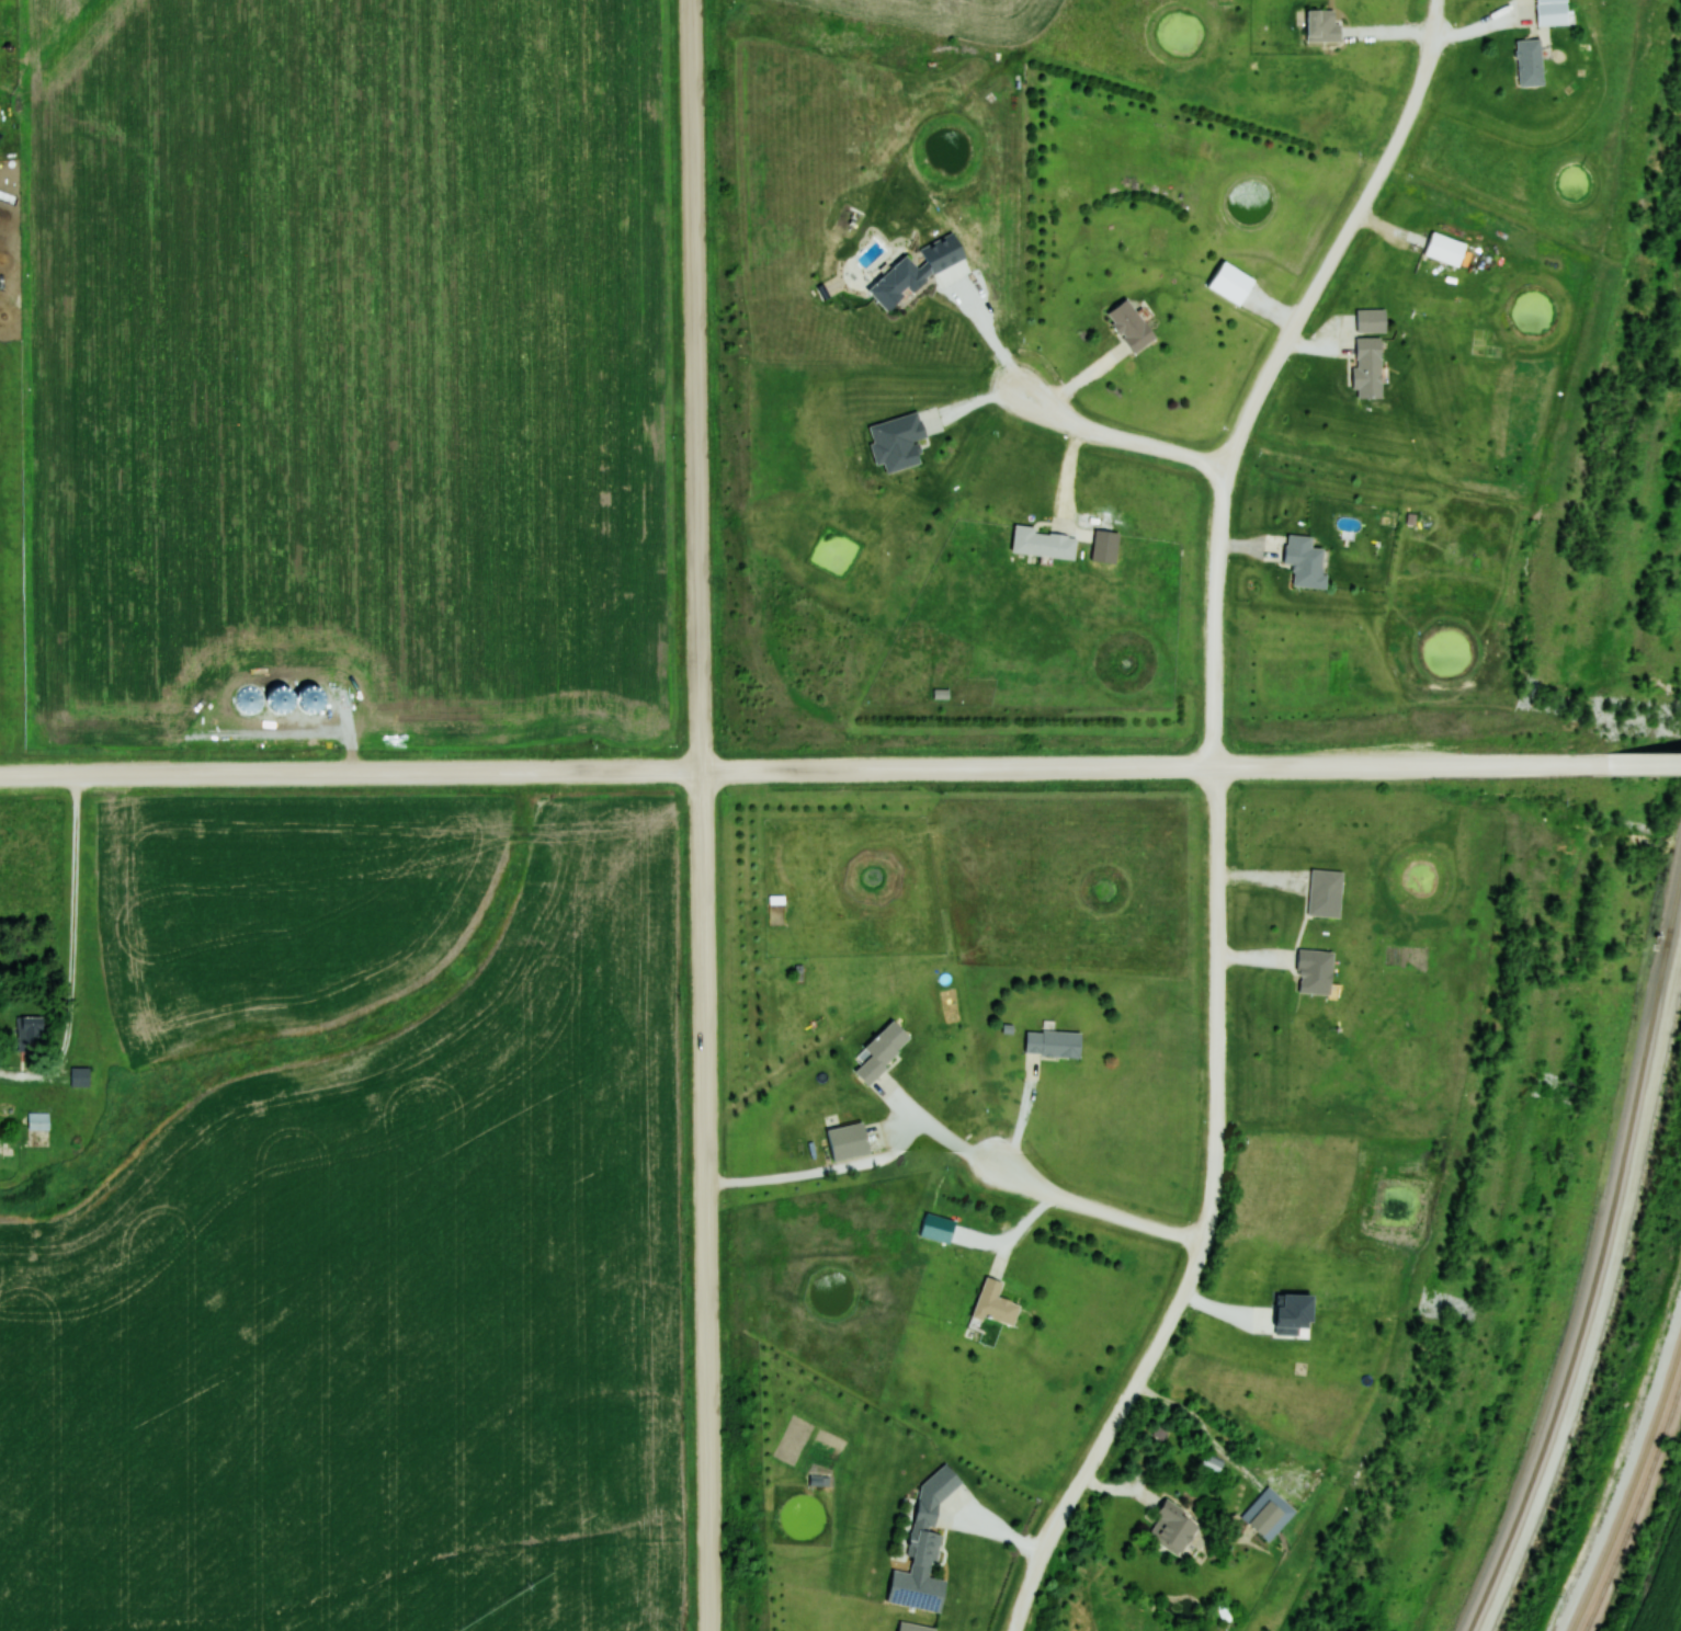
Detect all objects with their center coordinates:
building: (1552, 13)
building: (1322, 26)
building: (1530, 62)
building: (1445, 250)
building: (897, 283)
building: (1371, 320)
building: (1131, 324)
road: (1270, 366)
building: (1367, 367)
road: (1128, 427)
building: (1043, 543)
building: (1306, 561)
road: (1637, 764)
road: (797, 769)
road: (702, 814)
building: (1325, 892)
building: (1315, 971)
building: (33, 1033)
building: (1053, 1043)
building: (882, 1051)
building: (79, 1077)
building: (37, 1121)
building: (848, 1141)
road: (1098, 1207)
road: (1206, 1221)
building: (936, 1229)
railway: (1599, 1266)
building: (995, 1304)
building: (1211, 1467)
railway: (1629, 1483)
building: (1173, 1528)
building: (924, 1531)

